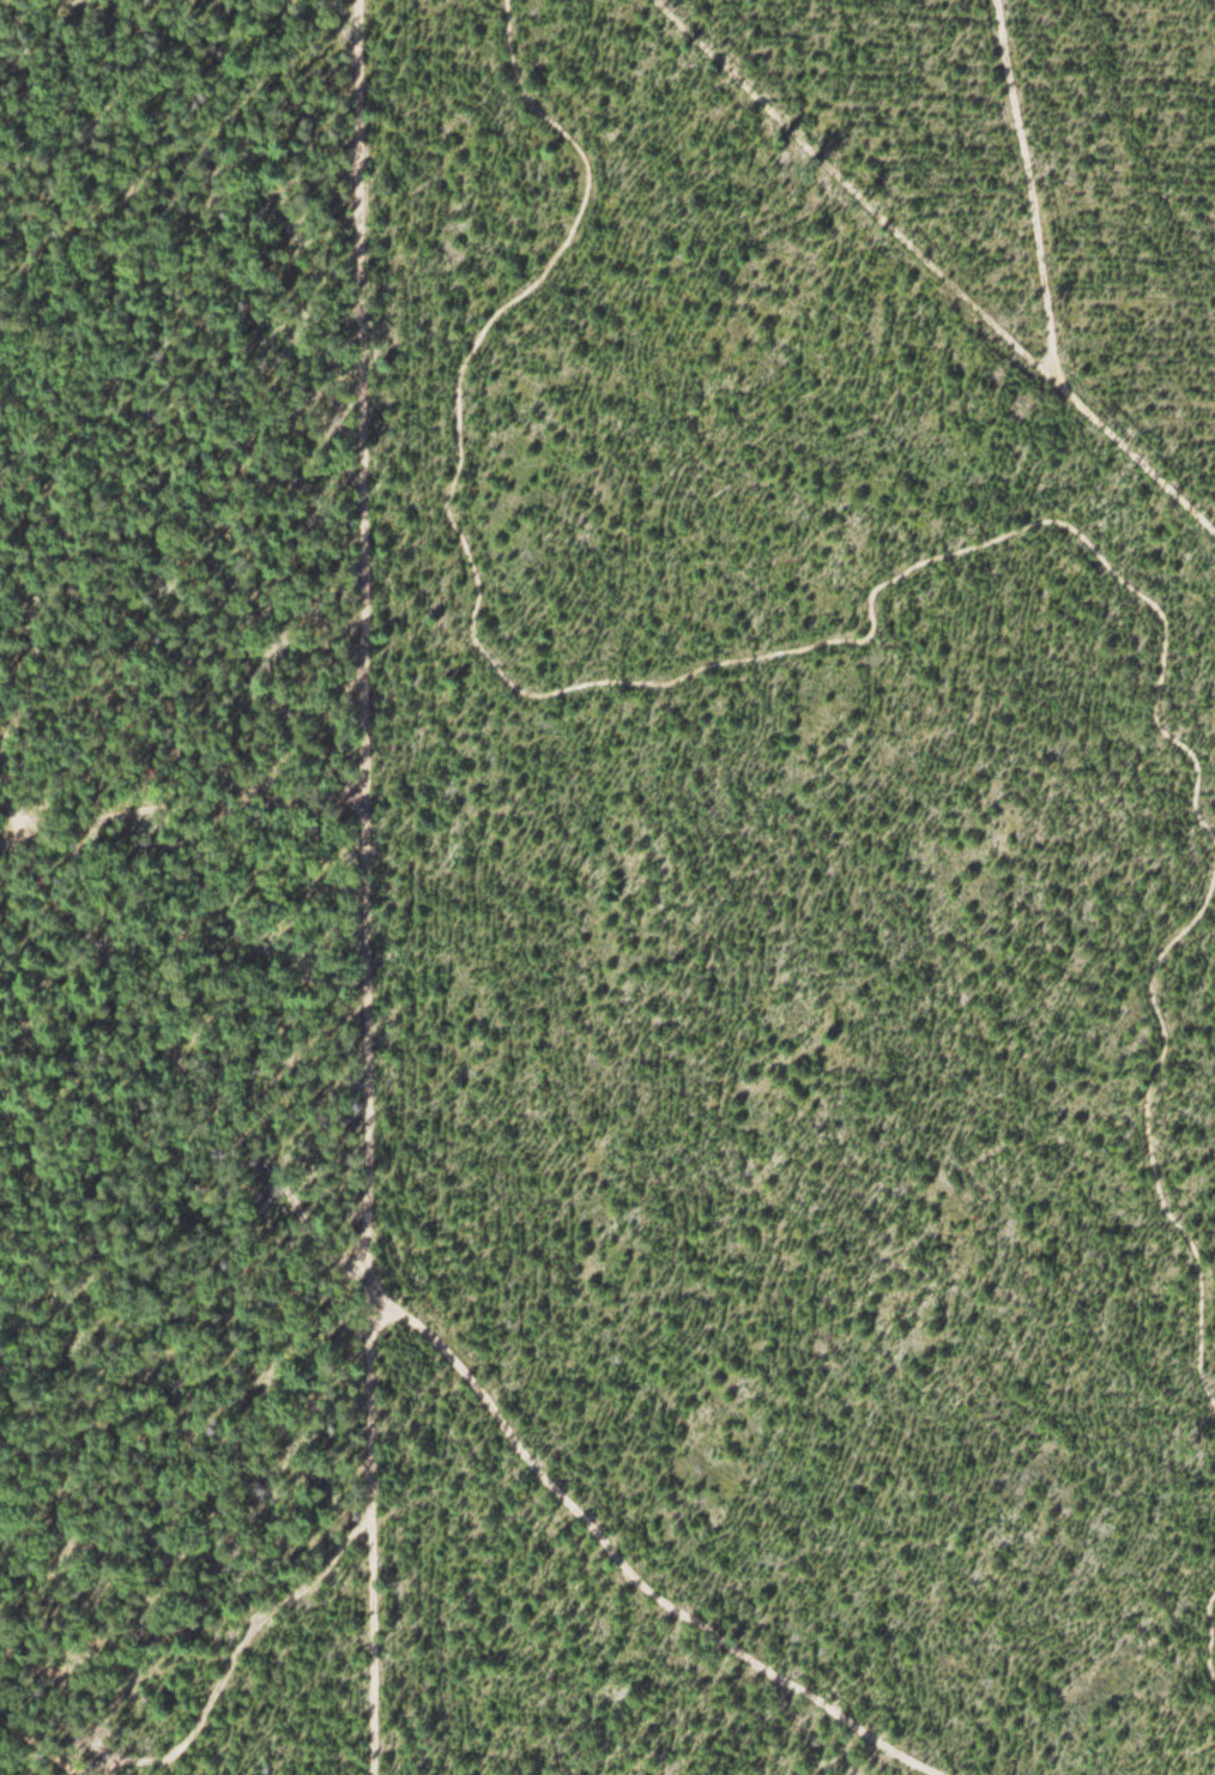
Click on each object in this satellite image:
road: (845, 192)
road: (1044, 297)
road: (876, 600)
road: (358, 634)
road: (180, 814)
road: (364, 1522)
road: (621, 1553)
road: (1209, 1625)
road: (229, 1661)
road: (38, 1743)

